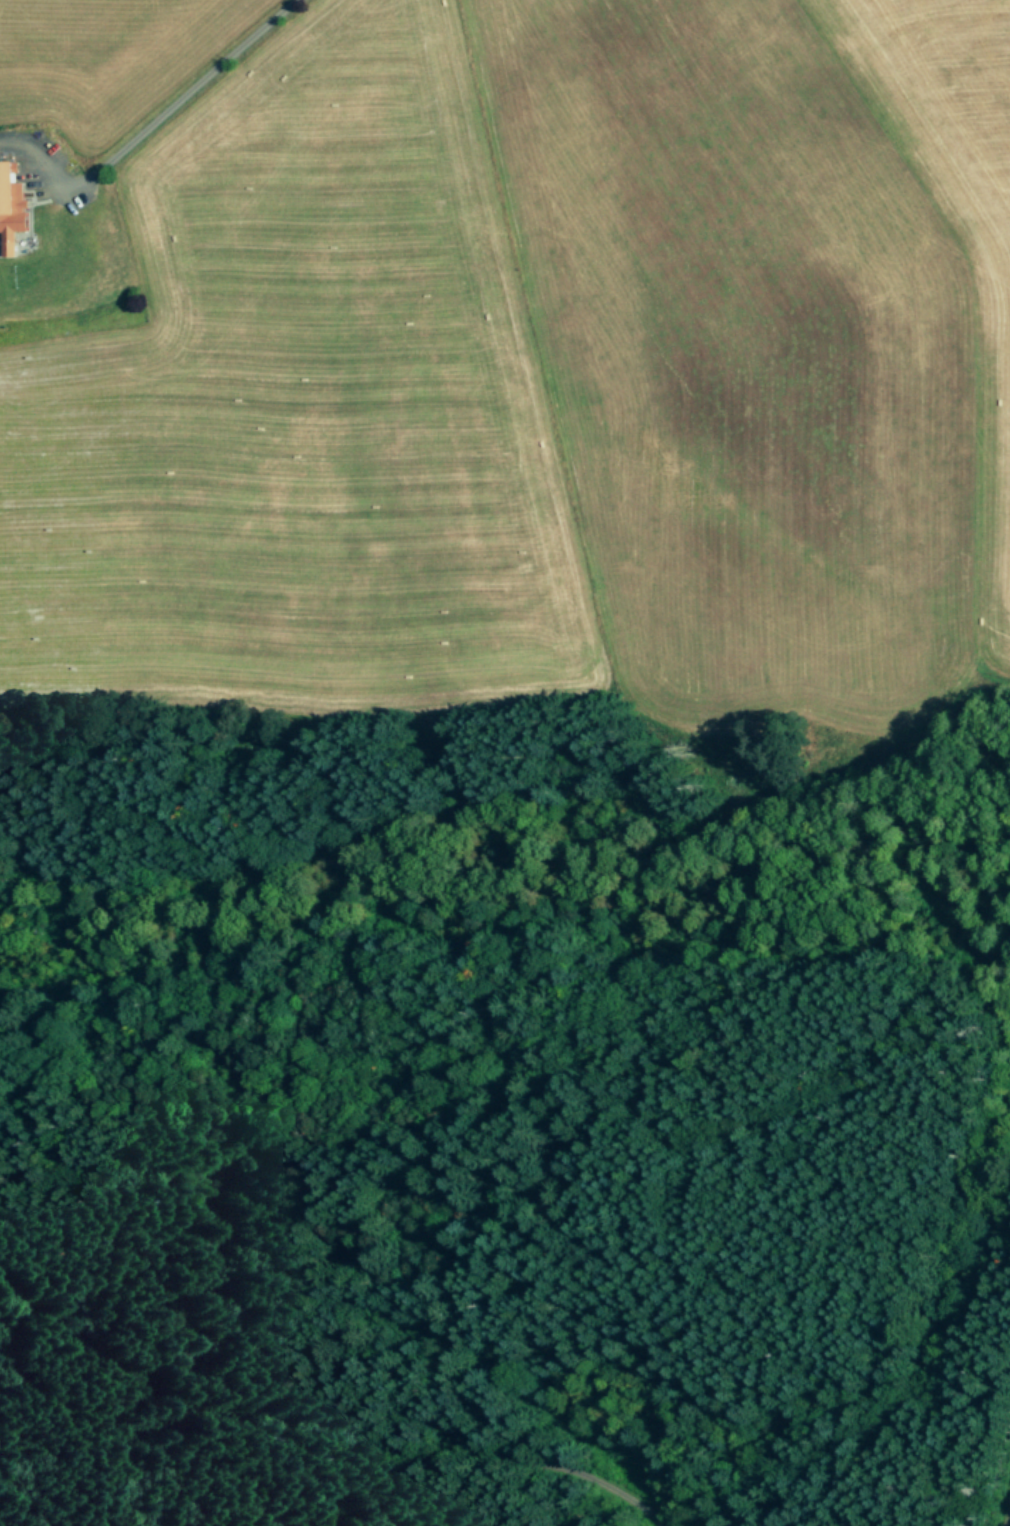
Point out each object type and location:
road: (168, 104)
building: (12, 205)
road: (324, 1435)
road: (1009, 1525)

